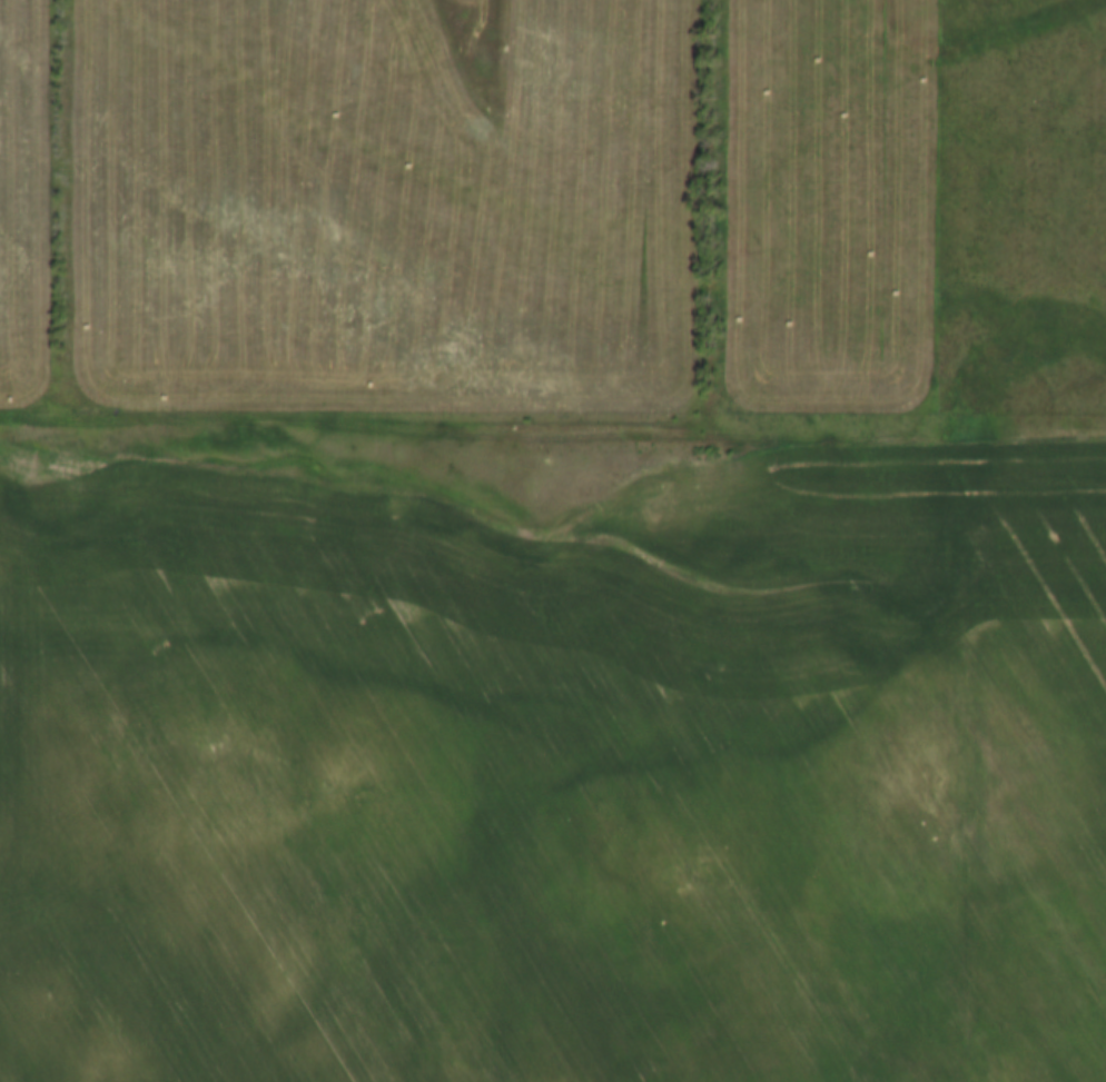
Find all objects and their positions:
road: (553, 426)

